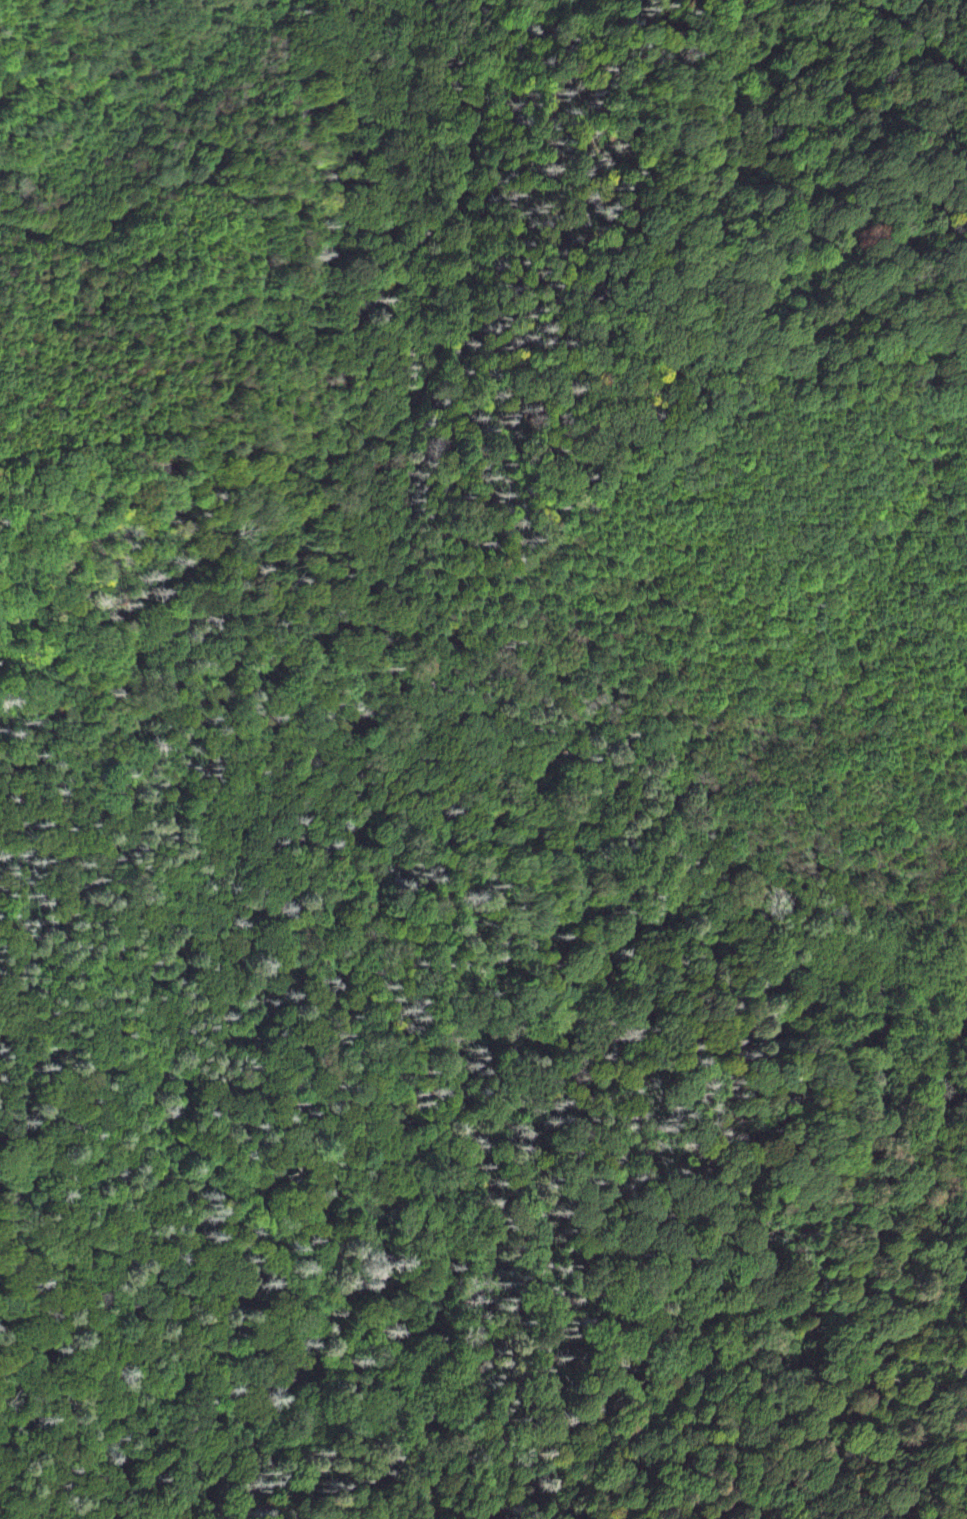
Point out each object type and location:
road: (14, 47)
road: (67, 84)
road: (341, 433)

